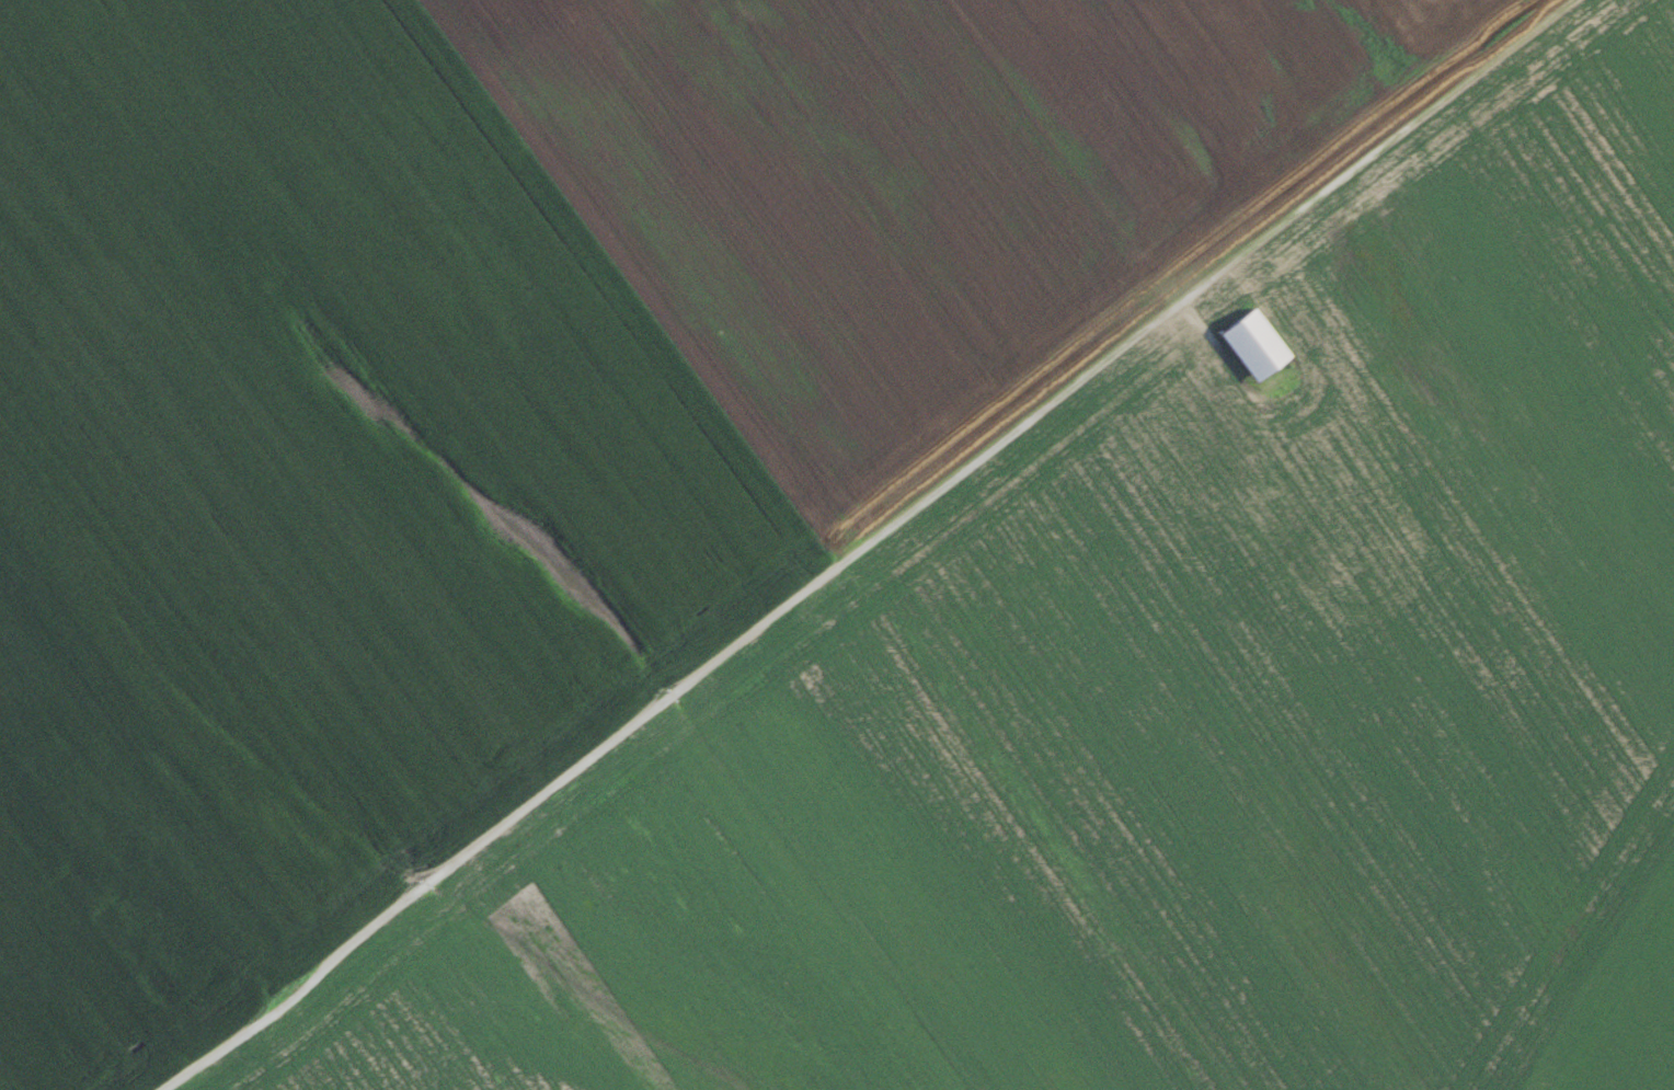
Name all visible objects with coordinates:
building: (1253, 347)
road: (847, 544)

